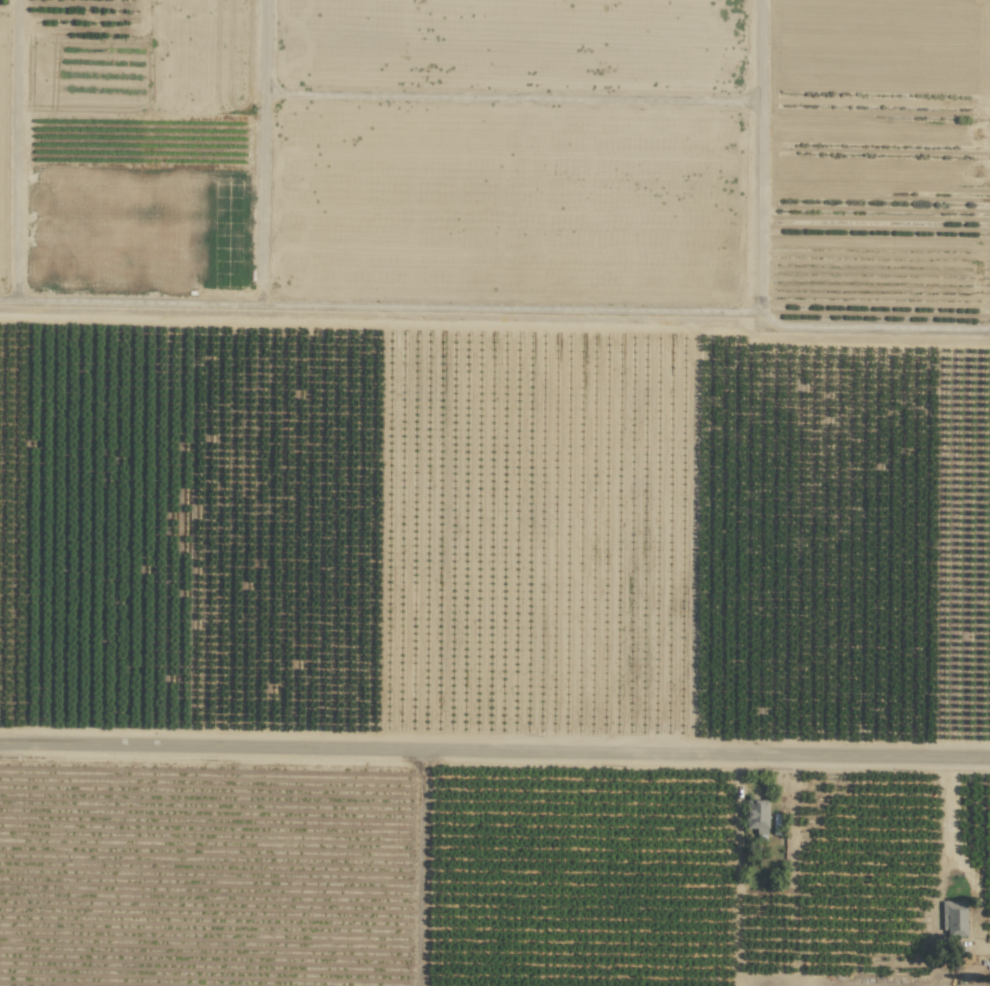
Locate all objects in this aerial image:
road: (18, 141)
road: (262, 144)
crop: (499, 146)
road: (756, 149)
road: (376, 290)
road: (871, 295)
road: (494, 757)
building: (757, 817)
road: (959, 858)
building: (953, 918)

